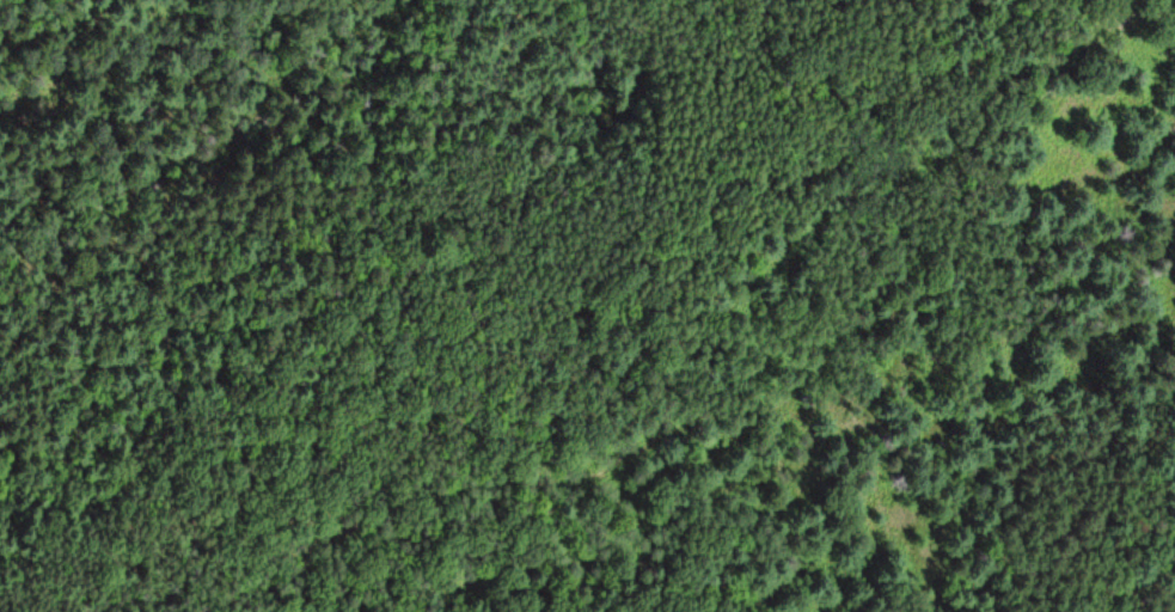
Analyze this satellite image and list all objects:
road: (1139, 8)
road: (177, 14)
road: (506, 385)

